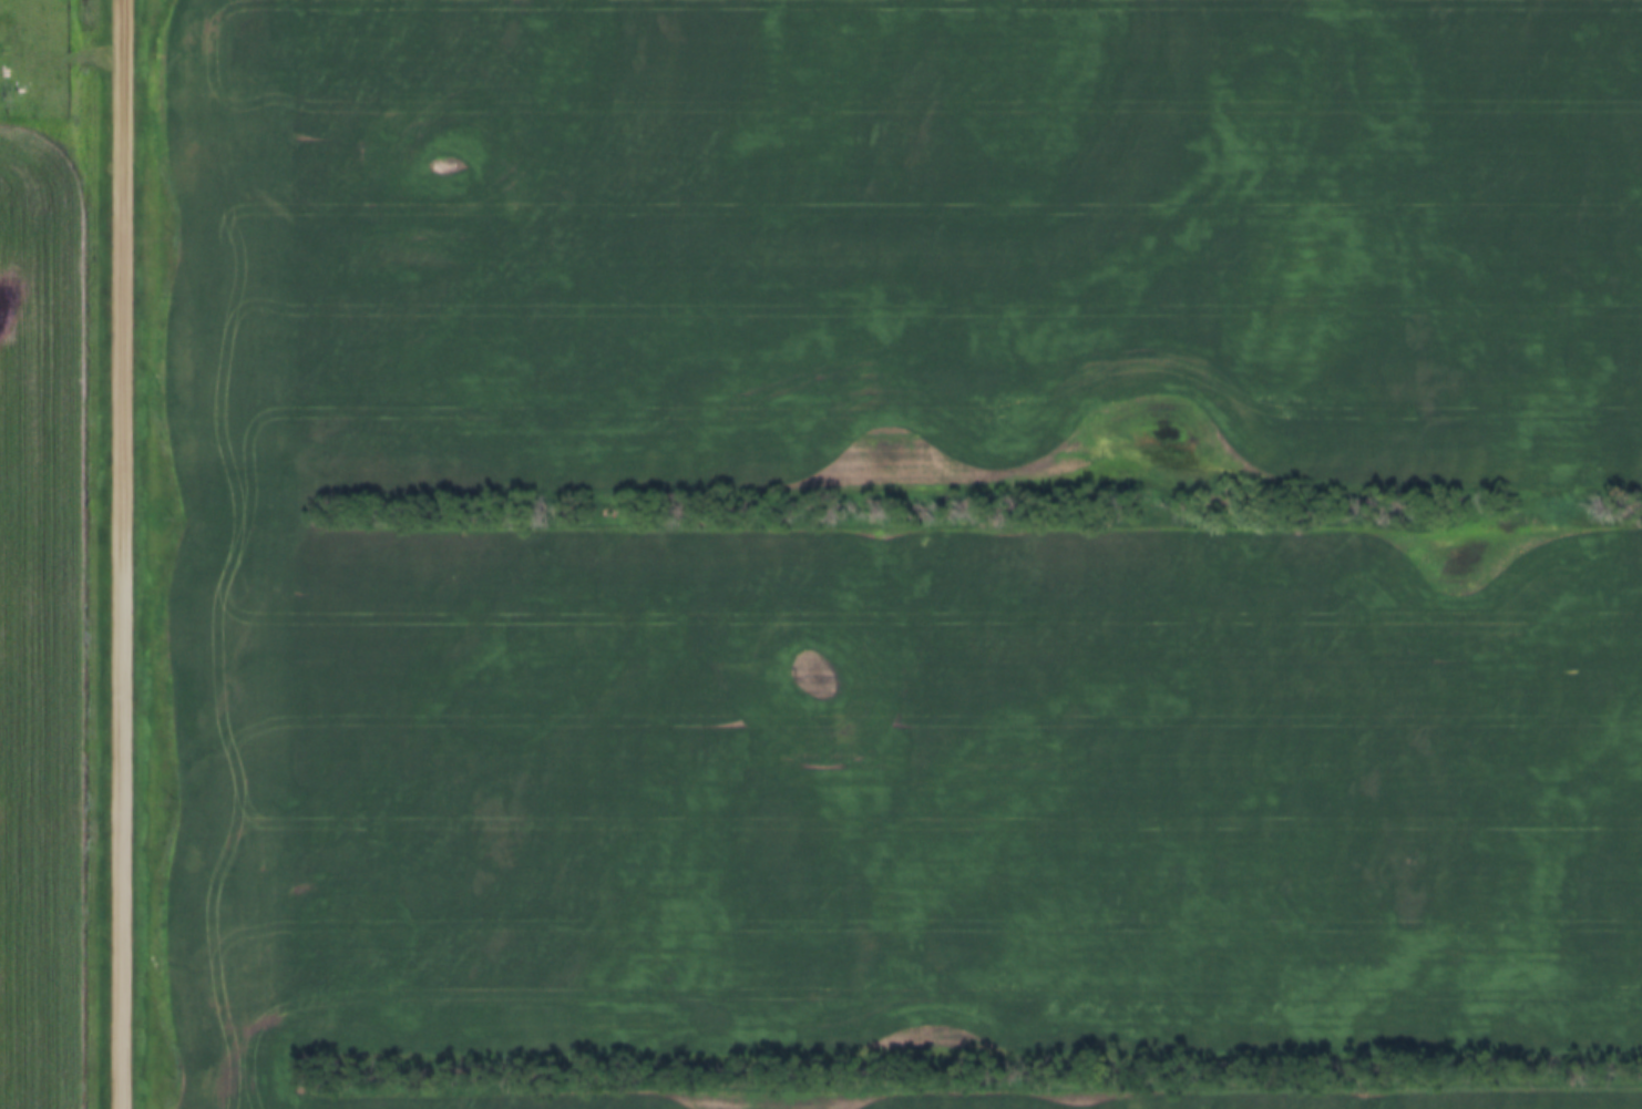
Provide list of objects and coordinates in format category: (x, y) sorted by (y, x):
park: (32, 58)
road: (126, 554)

